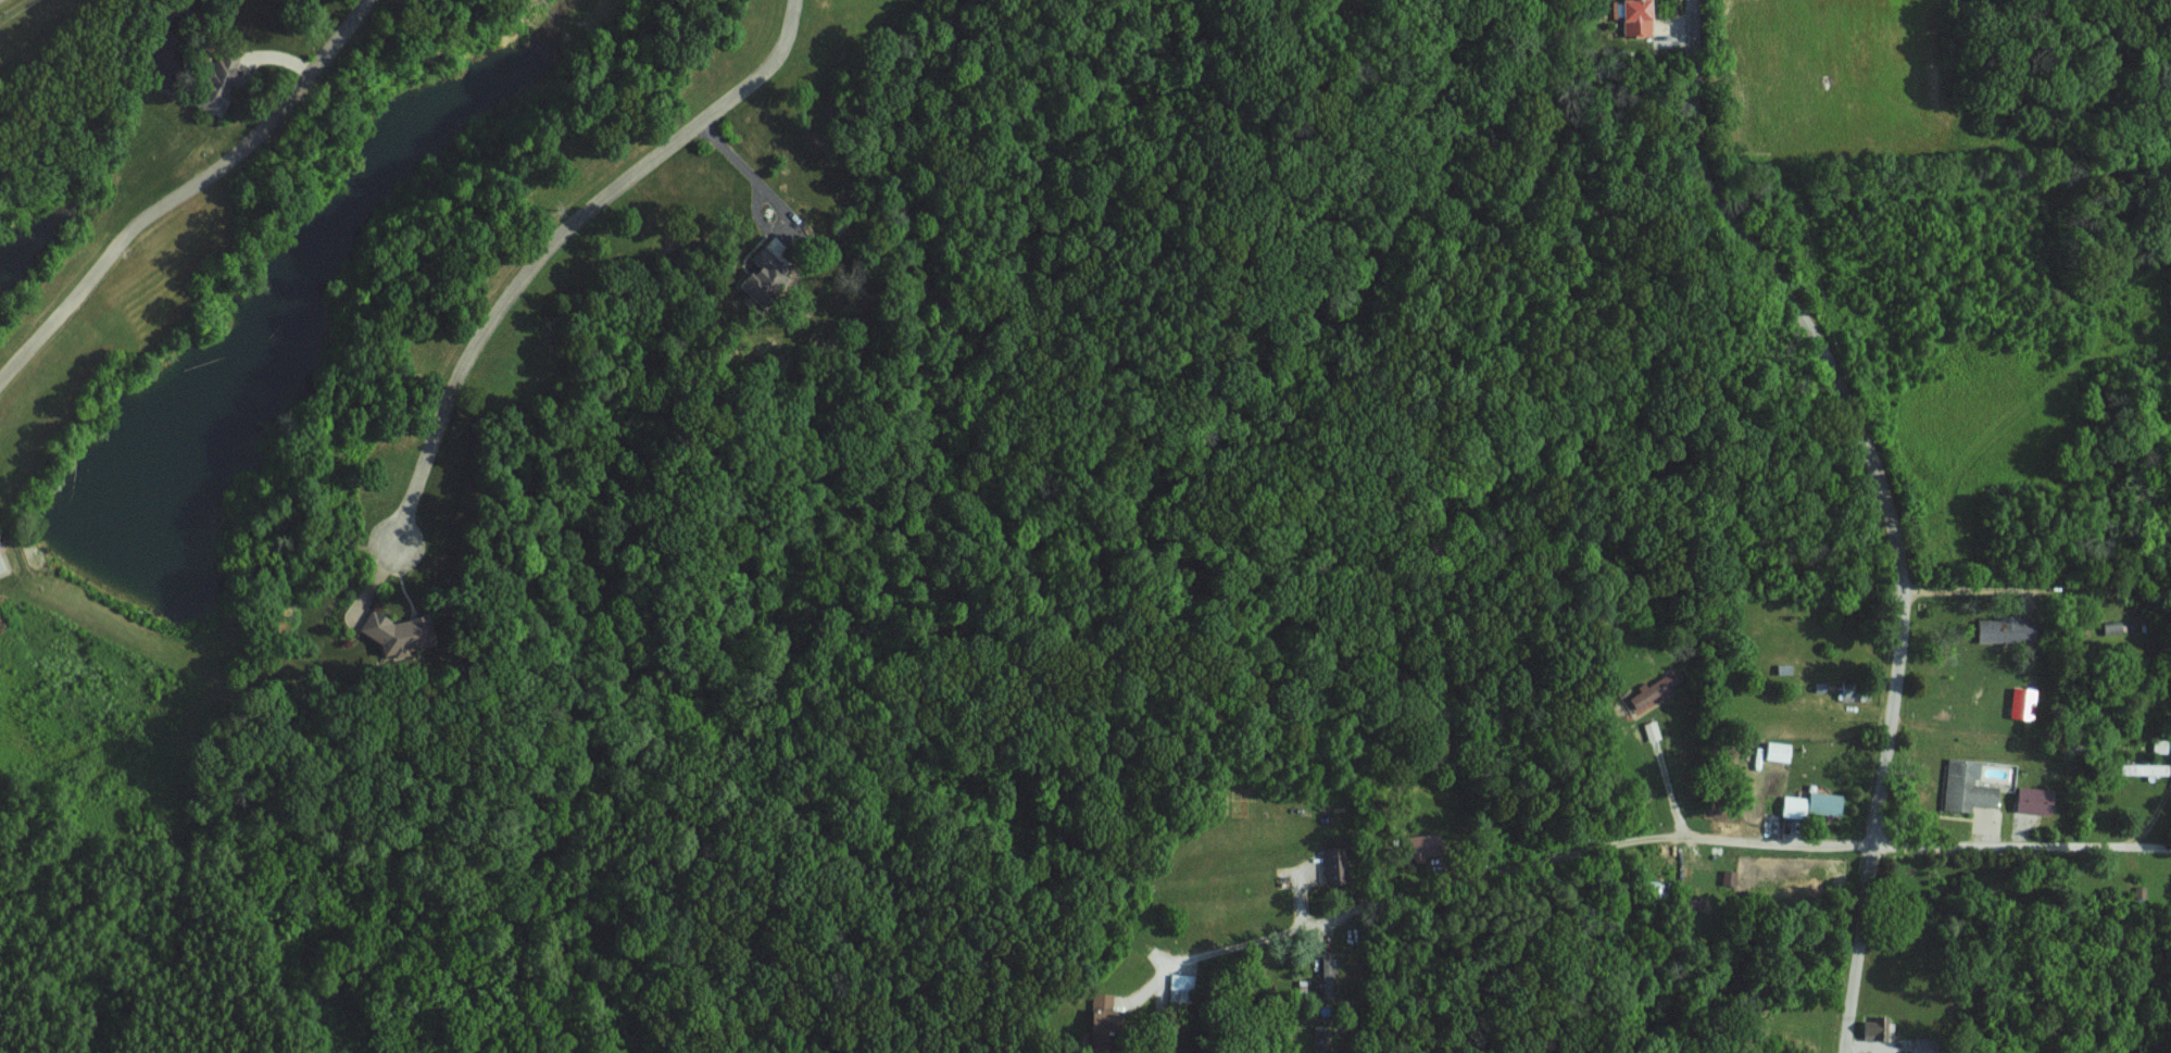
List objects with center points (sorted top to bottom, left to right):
building: (1631, 16)
road: (189, 205)
road: (561, 241)
building: (766, 273)
road: (1888, 505)
building: (1, 539)
road: (2003, 577)
building: (2107, 628)
building: (2003, 629)
building: (402, 632)
building: (1653, 690)
building: (2019, 702)
building: (1648, 730)
building: (1771, 751)
road: (1667, 782)
building: (1962, 787)
building: (2030, 800)
building: (1808, 804)
road: (1628, 848)
building: (1332, 865)
building: (1096, 1010)
building: (1873, 1029)
building: (1920, 1050)

